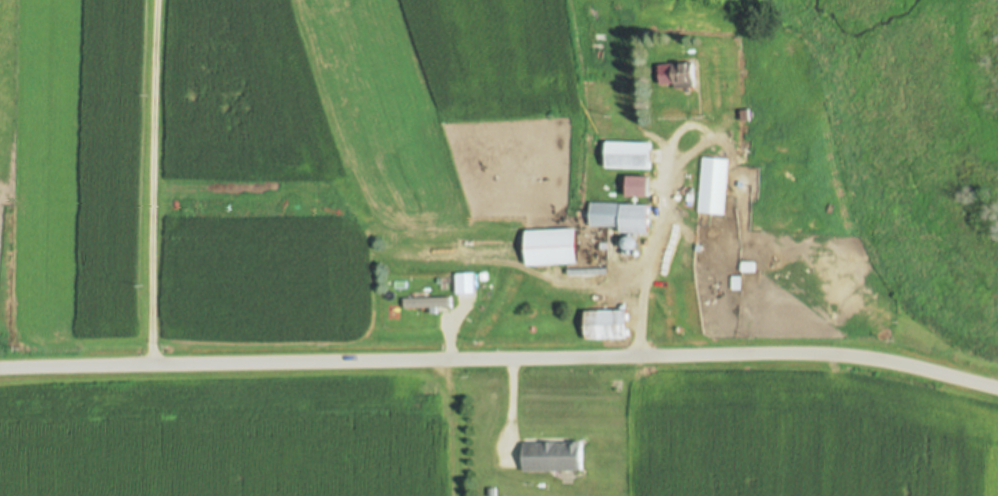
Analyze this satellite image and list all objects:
building: (678, 76)
building: (629, 155)
road: (154, 183)
building: (638, 185)
building: (716, 186)
road: (663, 204)
building: (623, 217)
building: (574, 252)
building: (465, 284)
building: (429, 304)
building: (608, 325)
road: (451, 330)
road: (500, 360)
road: (513, 409)
road: (456, 426)
building: (554, 456)

